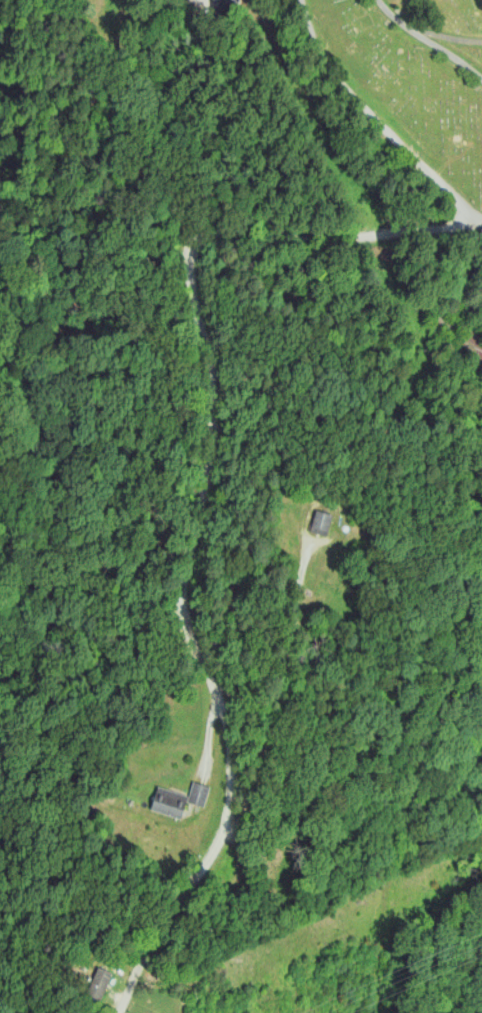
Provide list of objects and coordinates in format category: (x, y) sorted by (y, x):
building: (219, 2)
road: (189, 4)
road: (449, 38)
road: (429, 41)
park: (416, 71)
road: (378, 116)
road: (470, 267)
building: (472, 347)
road: (203, 502)
building: (320, 522)
building: (197, 793)
building: (167, 801)
building: (98, 983)

